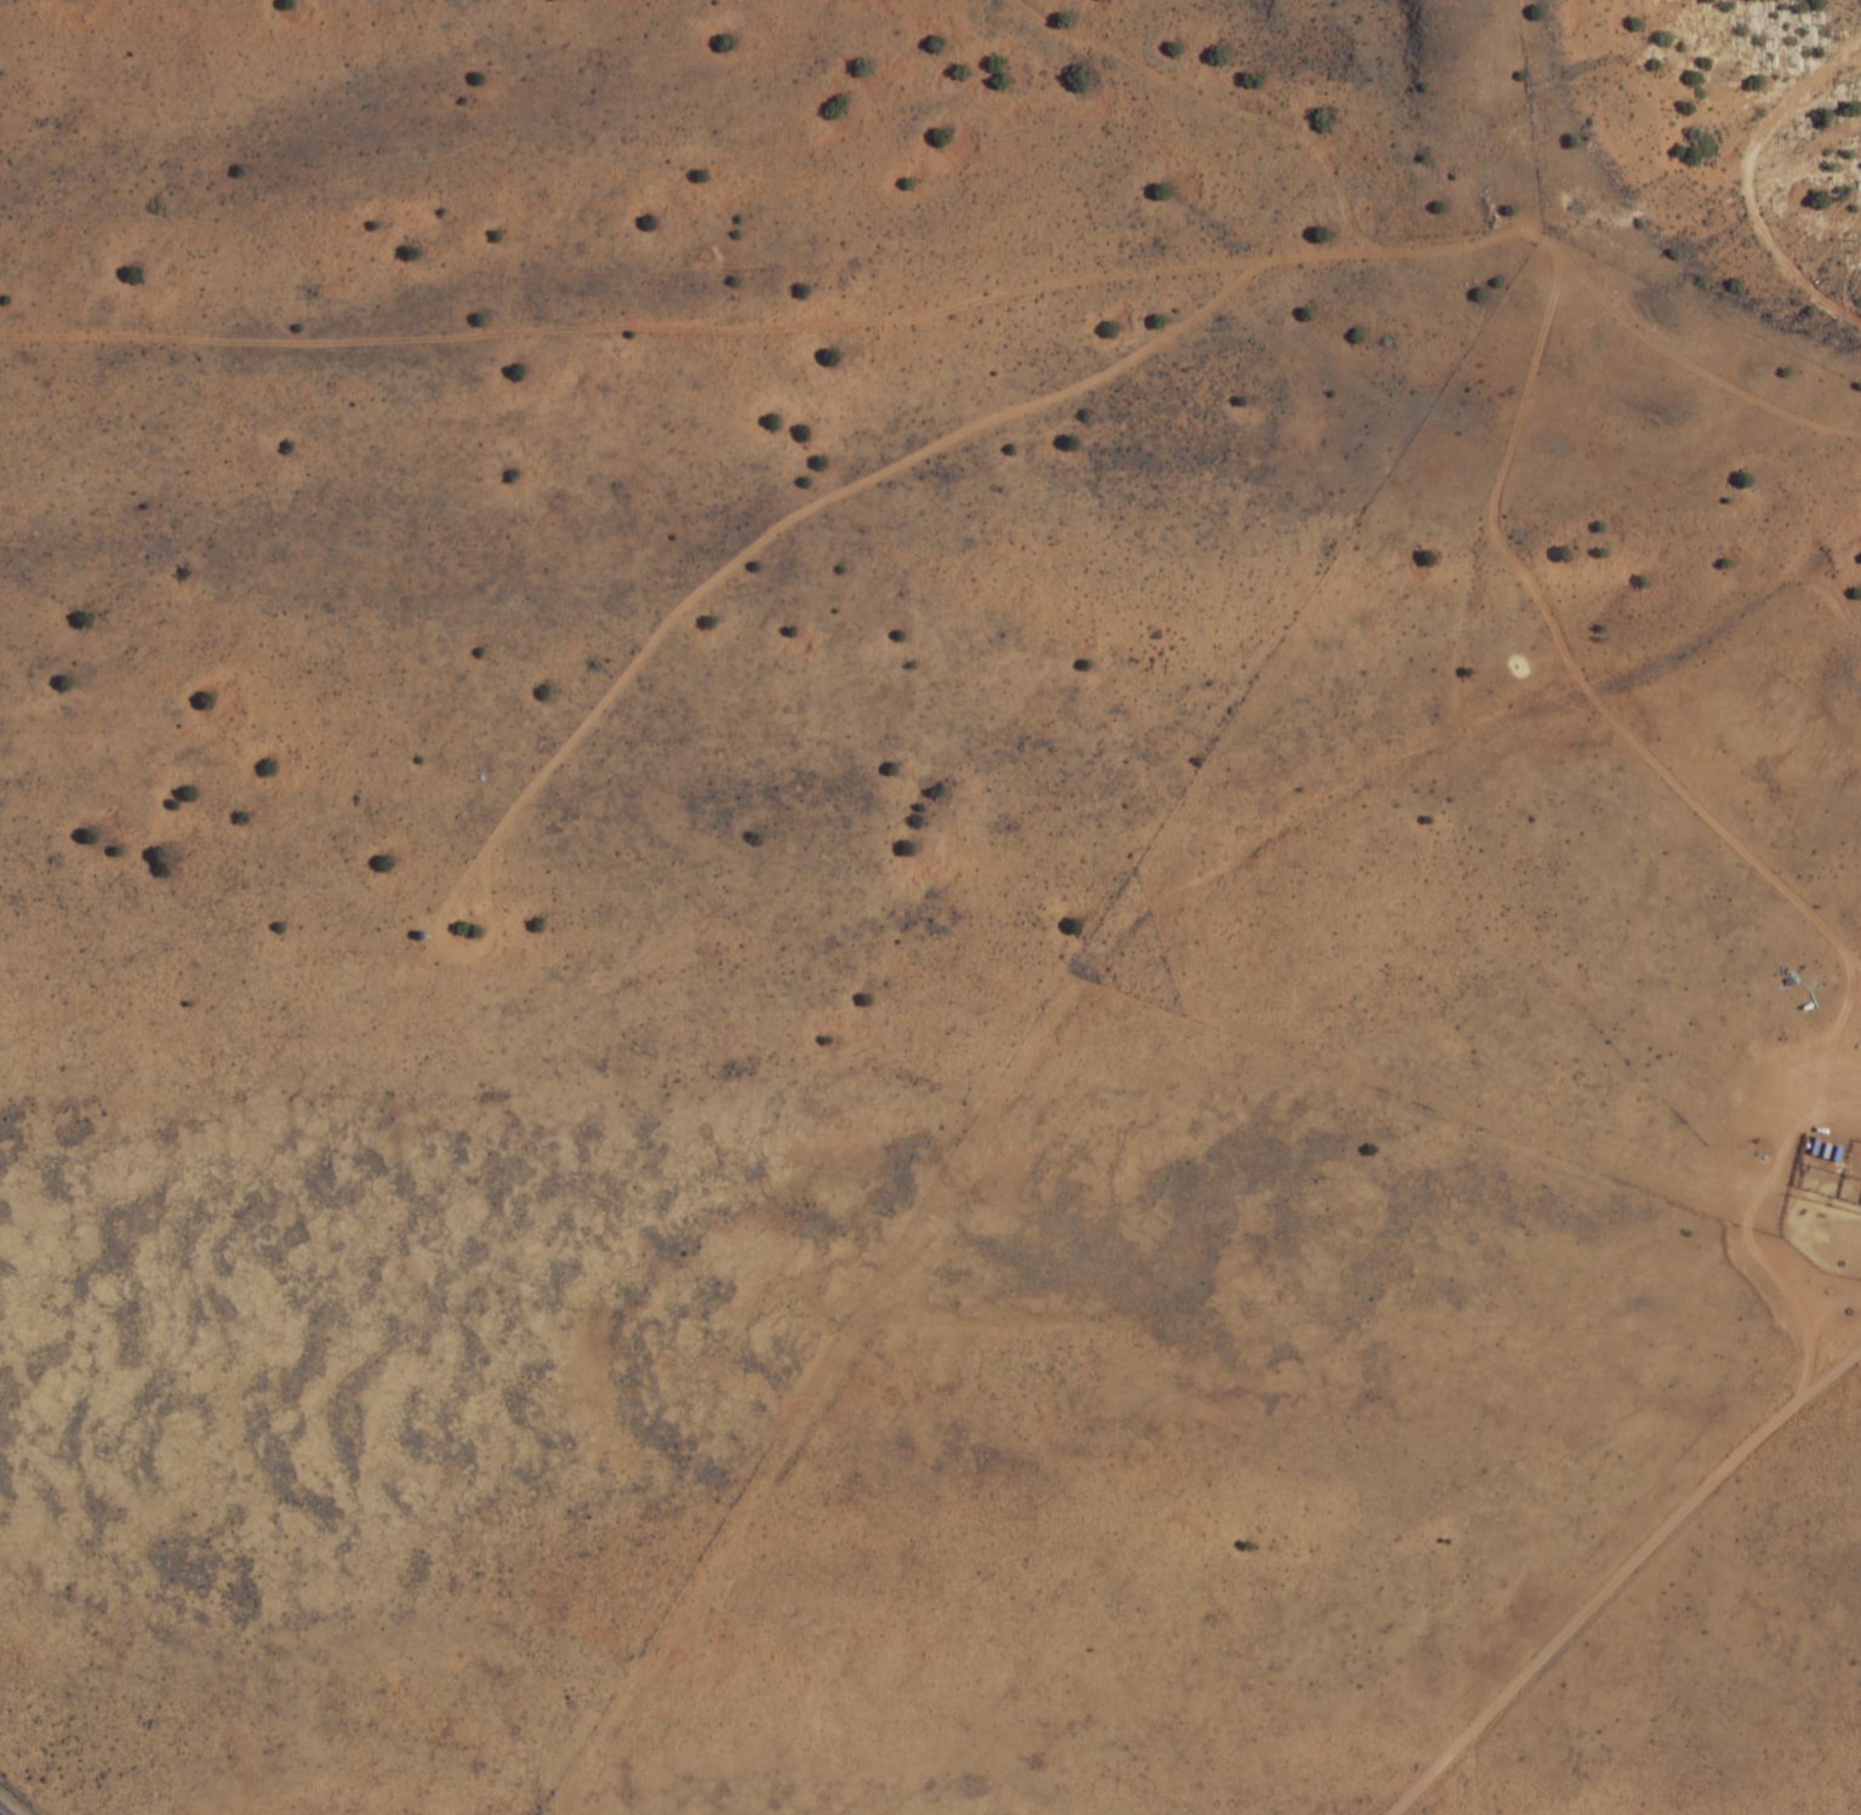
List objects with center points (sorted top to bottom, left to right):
road: (1757, 179)
road: (818, 1386)
road: (1623, 1577)

